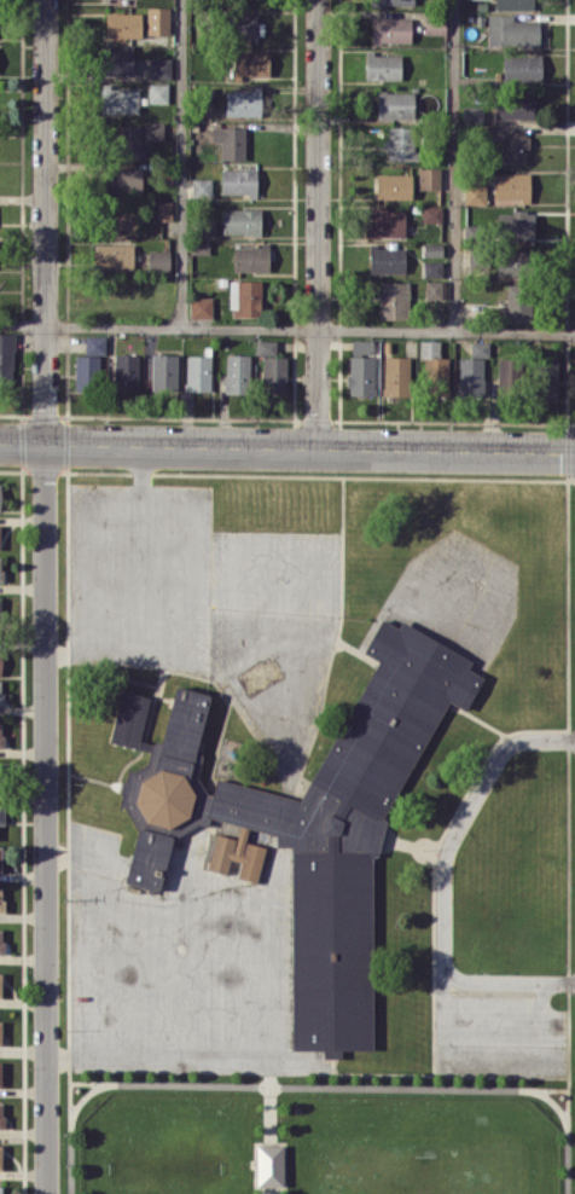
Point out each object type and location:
building: (393, 1)
building: (515, 4)
building: (157, 19)
building: (122, 24)
building: (434, 24)
building: (244, 25)
building: (391, 29)
building: (511, 30)
building: (115, 59)
building: (250, 63)
building: (383, 65)
building: (522, 66)
building: (161, 68)
building: (158, 92)
building: (120, 99)
building: (243, 102)
building: (395, 104)
building: (513, 106)
building: (472, 115)
building: (137, 137)
building: (230, 141)
building: (401, 143)
building: (513, 147)
road: (186, 163)
road: (454, 166)
building: (429, 178)
building: (122, 179)
building: (239, 181)
building: (394, 185)
building: (511, 186)
building: (202, 187)
building: (475, 193)
road: (23, 198)
building: (163, 209)
building: (431, 213)
building: (121, 218)
building: (240, 221)
building: (384, 221)
road: (319, 224)
building: (515, 225)
building: (199, 247)
building: (432, 249)
building: (114, 255)
building: (250, 257)
building: (387, 259)
building: (158, 261)
building: (513, 263)
building: (432, 267)
building: (434, 289)
building: (245, 297)
building: (394, 300)
building: (517, 302)
building: (201, 307)
road: (287, 328)
building: (94, 343)
building: (480, 348)
building: (6, 355)
building: (432, 360)
building: (272, 365)
building: (361, 367)
building: (87, 371)
building: (126, 371)
building: (163, 371)
building: (197, 372)
building: (237, 372)
building: (396, 375)
building: (472, 376)
building: (548, 379)
road: (287, 446)
building: (0, 495)
road: (140, 538)
building: (0, 567)
road: (46, 596)
building: (0, 661)
building: (0, 691)
building: (0, 735)
building: (1, 815)
building: (307, 839)
building: (0, 857)
road: (441, 879)
building: (0, 899)
building: (0, 940)
building: (0, 984)
road: (539, 996)
building: (0, 1031)
building: (0, 1114)
park: (315, 1144)
building: (0, 1155)
building: (268, 1165)
building: (1, 1189)

